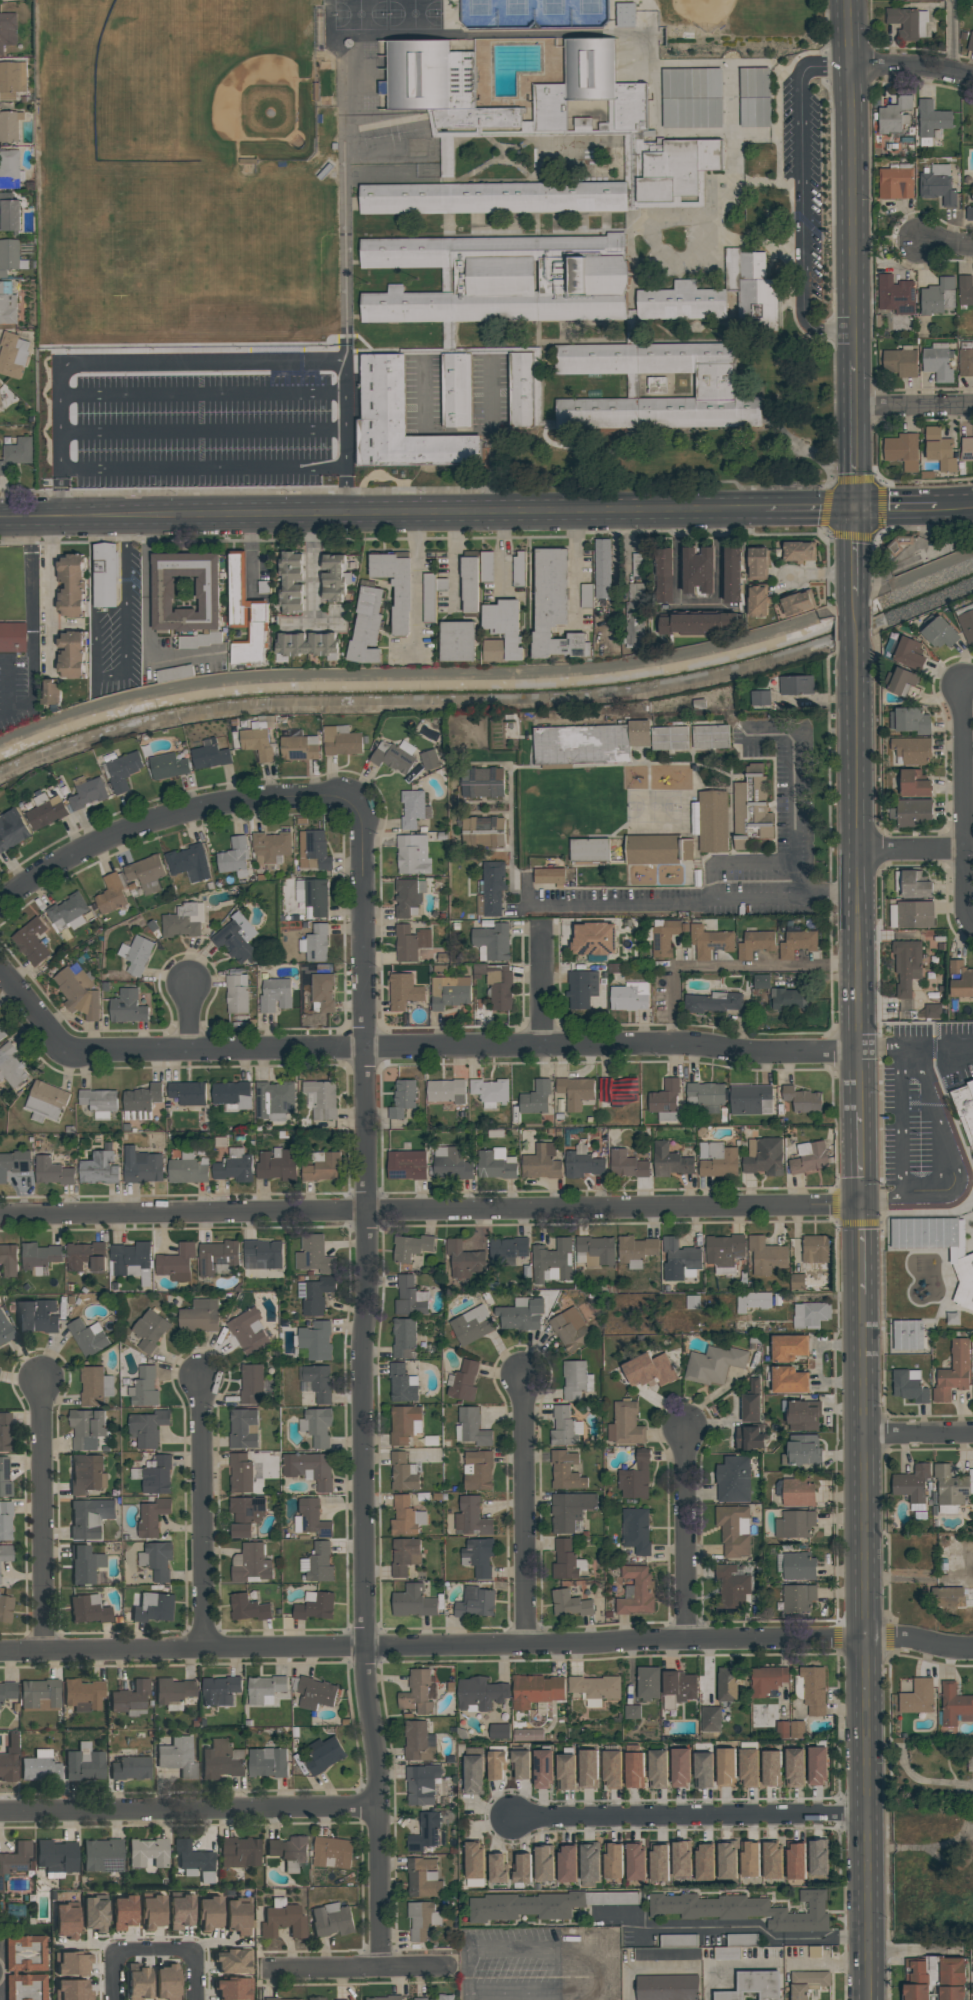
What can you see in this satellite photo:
park: (713, 7)
building: (625, 15)
building: (908, 23)
building: (7, 30)
road: (951, 36)
building: (970, 42)
road: (913, 65)
park: (244, 79)
building: (12, 80)
building: (692, 97)
building: (754, 97)
building: (895, 115)
building: (932, 119)
building: (10, 126)
building: (500, 129)
building: (10, 169)
road: (853, 179)
building: (896, 183)
building: (938, 185)
road: (802, 196)
building: (9, 213)
building: (969, 214)
road: (950, 247)
road: (343, 251)
building: (9, 256)
building: (752, 264)
building: (731, 268)
building: (502, 279)
building: (965, 290)
building: (895, 295)
building: (938, 297)
building: (682, 302)
building: (757, 303)
building: (7, 304)
building: (631, 326)
building: (13, 355)
building: (938, 361)
building: (965, 361)
building: (900, 363)
road: (198, 381)
building: (656, 385)
building: (715, 385)
building: (525, 389)
building: (456, 390)
building: (0, 405)
road: (914, 406)
road: (200, 411)
building: (400, 422)
road: (855, 430)
road: (201, 442)
building: (940, 449)
building: (967, 449)
building: (903, 450)
road: (201, 473)
road: (344, 489)
road: (59, 493)
road: (954, 500)
road: (896, 501)
road: (811, 502)
traffic signals: (857, 502)
road: (445, 507)
road: (108, 511)
road: (45, 512)
road: (856, 548)
road: (250, 550)
building: (799, 551)
road: (147, 553)
road: (455, 556)
building: (638, 564)
building: (759, 564)
building: (486, 566)
building: (519, 567)
road: (575, 567)
road: (316, 568)
building: (602, 568)
building: (701, 570)
road: (30, 571)
building: (105, 575)
building: (666, 575)
building: (735, 575)
road: (826, 575)
building: (334, 578)
road: (416, 581)
building: (291, 582)
road: (785, 584)
building: (71, 586)
building: (470, 586)
building: (264, 587)
building: (395, 587)
road: (49, 590)
building: (30, 593)
building: (187, 597)
building: (429, 598)
building: (759, 601)
building: (799, 603)
road: (699, 605)
building: (554, 606)
building: (246, 615)
building: (634, 616)
road: (855, 621)
building: (967, 623)
building: (699, 624)
building: (368, 626)
road: (315, 628)
building: (503, 631)
building: (941, 633)
building: (13, 637)
building: (458, 641)
building: (308, 645)
building: (909, 654)
building: (71, 655)
road: (153, 656)
road: (109, 675)
building: (904, 683)
road: (33, 684)
road: (7, 685)
building: (796, 685)
building: (53, 692)
building: (761, 698)
building: (909, 721)
building: (711, 737)
building: (671, 738)
building: (258, 739)
building: (342, 741)
building: (589, 743)
building: (299, 746)
building: (912, 750)
building: (394, 756)
building: (210, 757)
building: (429, 760)
road: (960, 761)
building: (168, 766)
building: (123, 771)
road: (856, 772)
building: (483, 782)
building: (914, 784)
building: (89, 793)
road: (793, 796)
building: (413, 809)
building: (751, 809)
building: (46, 811)
building: (913, 812)
road: (170, 819)
building: (711, 821)
building: (12, 830)
building: (483, 831)
building: (272, 847)
building: (589, 849)
building: (652, 849)
building: (686, 849)
building: (313, 850)
road: (910, 850)
building: (413, 854)
building: (235, 857)
building: (189, 863)
building: (146, 874)
building: (549, 876)
building: (912, 884)
building: (492, 889)
building: (111, 895)
building: (313, 896)
building: (408, 898)
road: (963, 898)
road: (694, 907)
building: (68, 912)
building: (913, 914)
building: (183, 921)
building: (236, 939)
building: (593, 939)
building: (710, 941)
building: (31, 942)
building: (492, 942)
building: (410, 943)
building: (315, 944)
building: (756, 944)
building: (797, 944)
building: (137, 955)
road: (740, 967)
building: (907, 967)
building: (960, 979)
building: (500, 986)
road: (544, 989)
building: (582, 989)
building: (78, 991)
building: (323, 991)
building: (403, 991)
building: (450, 992)
building: (236, 994)
building: (275, 994)
building: (629, 996)
building: (789, 999)
building: (714, 1002)
road: (858, 1004)
building: (127, 1007)
building: (933, 1011)
road: (192, 1017)
building: (2, 1032)
road: (411, 1044)
road: (880, 1046)
road: (938, 1048)
building: (11, 1066)
building: (445, 1090)
building: (617, 1090)
building: (490, 1091)
building: (575, 1091)
building: (188, 1092)
building: (232, 1095)
building: (664, 1097)
building: (704, 1097)
building: (142, 1098)
building: (403, 1098)
building: (536, 1098)
building: (322, 1099)
building: (750, 1099)
building: (802, 1099)
building: (274, 1100)
building: (45, 1101)
building: (99, 1102)
building: (964, 1108)
road: (903, 1122)
road: (940, 1138)
building: (764, 1156)
building: (809, 1157)
road: (859, 1159)
building: (670, 1161)
building: (719, 1161)
building: (541, 1162)
building: (452, 1163)
building: (583, 1163)
building: (13, 1164)
building: (406, 1164)
building: (495, 1164)
building: (627, 1164)
building: (277, 1165)
building: (142, 1166)
building: (323, 1167)
building: (99, 1169)
building: (234, 1169)
building: (188, 1170)
building: (52, 1171)
road: (881, 1197)
traffic signals: (860, 1207)
road: (430, 1214)
building: (411, 1247)
building: (815, 1249)
building: (636, 1250)
building: (507, 1251)
building: (595, 1251)
road: (860, 1251)
building: (724, 1252)
building: (262, 1254)
building: (314, 1255)
building: (86, 1256)
building: (766, 1256)
building: (40, 1257)
building: (217, 1257)
building: (130, 1258)
building: (679, 1259)
building: (8, 1260)
building: (464, 1260)
building: (552, 1261)
building: (176, 1262)
building: (962, 1280)
building: (797, 1281)
building: (315, 1295)
building: (410, 1297)
building: (752, 1301)
building: (521, 1314)
building: (810, 1315)
building: (38, 1316)
building: (199, 1316)
building: (472, 1325)
building: (5, 1329)
building: (150, 1330)
building: (570, 1330)
building: (248, 1331)
building: (907, 1335)
building: (88, 1337)
building: (403, 1338)
building: (316, 1340)
building: (789, 1347)
building: (713, 1365)
building: (649, 1370)
building: (953, 1372)
building: (465, 1380)
building: (576, 1380)
building: (789, 1380)
building: (318, 1382)
road: (367, 1382)
building: (251, 1383)
building: (402, 1384)
building: (95, 1386)
building: (909, 1386)
building: (144, 1388)
building: (751, 1401)
building: (803, 1415)
building: (404, 1424)
building: (625, 1424)
building: (317, 1426)
building: (473, 1427)
building: (565, 1427)
building: (147, 1428)
building: (243, 1428)
building: (87, 1429)
building: (5, 1431)
road: (917, 1434)
building: (749, 1438)
building: (803, 1449)
building: (310, 1469)
building: (478, 1470)
building: (566, 1471)
building: (403, 1472)
building: (87, 1474)
building: (240, 1474)
building: (4, 1476)
building: (157, 1476)
building: (635, 1479)
building: (733, 1480)
building: (912, 1483)
building: (950, 1490)
building: (798, 1492)
building: (570, 1510)
road: (203, 1513)
road: (41, 1514)
road: (524, 1514)
building: (245, 1515)
building: (90, 1517)
building: (152, 1517)
building: (406, 1517)
building: (471, 1517)
building: (311, 1519)
building: (5, 1520)
building: (795, 1524)
building: (636, 1530)
building: (734, 1530)
road: (685, 1532)
building: (6, 1552)
building: (404, 1556)
building: (479, 1557)
building: (157, 1560)
building: (564, 1560)
building: (318, 1563)
building: (85, 1564)
building: (251, 1564)
building: (799, 1566)
building: (733, 1588)
building: (636, 1591)
building: (947, 1596)
building: (799, 1598)
building: (414, 1602)
building: (476, 1603)
building: (569, 1604)
building: (315, 1606)
building: (5, 1607)
building: (155, 1607)
building: (248, 1608)
building: (88, 1609)
road: (487, 1646)
road: (863, 1647)
building: (648, 1682)
building: (727, 1684)
building: (679, 1688)
building: (595, 1689)
building: (8, 1690)
building: (265, 1690)
building: (814, 1690)
building: (220, 1691)
building: (537, 1691)
building: (173, 1692)
building: (419, 1692)
building: (316, 1693)
building: (40, 1694)
building: (83, 1694)
building: (480, 1694)
building: (130, 1696)
building: (918, 1697)
building: (955, 1706)
building: (632, 1712)
building: (710, 1719)
building: (789, 1730)
building: (499, 1731)
building: (419, 1742)
building: (323, 1756)
building: (177, 1758)
building: (10, 1759)
building: (222, 1760)
building: (267, 1762)
building: (970, 1762)
building: (85, 1763)
building: (37, 1765)
building: (496, 1765)
building: (521, 1765)
building: (817, 1766)
building: (131, 1767)
building: (680, 1767)
building: (726, 1767)
building: (795, 1767)
building: (749, 1768)
building: (772, 1768)
building: (543, 1769)
building: (589, 1769)
building: (658, 1769)
building: (612, 1770)
building: (635, 1770)
building: (703, 1770)
building: (566, 1772)
building: (474, 1774)
road: (910, 1776)
building: (421, 1785)
road: (189, 1806)
road: (687, 1815)
building: (427, 1833)
building: (240, 1852)
building: (289, 1852)
building: (148, 1853)
building: (332, 1853)
building: (103, 1855)
building: (56, 1856)
building: (16, 1857)
building: (818, 1858)
building: (750, 1859)
building: (194, 1860)
building: (681, 1860)
building: (772, 1860)
building: (613, 1861)
building: (727, 1861)
building: (796, 1861)
building: (635, 1862)
building: (659, 1862)
building: (704, 1862)
building: (474, 1864)
building: (567, 1864)
building: (589, 1864)
building: (544, 1865)
building: (522, 1868)
building: (497, 1869)
building: (423, 1878)
building: (621, 1898)
building: (522, 1907)
building: (746, 1910)
building: (181, 1911)
building: (124, 1912)
building: (153, 1912)
building: (209, 1913)
building: (95, 1914)
building: (237, 1917)
building: (283, 1919)
building: (332, 1920)
building: (67, 1921)
road: (755, 1927)
building: (672, 1949)
road: (154, 1950)
road: (548, 1950)
building: (25, 1952)
building: (815, 1952)
building: (727, 1953)
building: (231, 1961)
building: (72, 1964)
road: (357, 1968)
road: (710, 1972)
road: (606, 1977)
building: (952, 1978)
building: (916, 1980)
building: (167, 1982)
building: (138, 1983)
building: (808, 1983)
building: (26, 1987)
building: (667, 1987)
building: (754, 1987)
building: (232, 1989)
building: (72, 1990)
building: (282, 1998)
building: (316, 1998)
building: (383, 1998)
building: (441, 1998)
road: (467, 1998)
building: (340, 1999)

